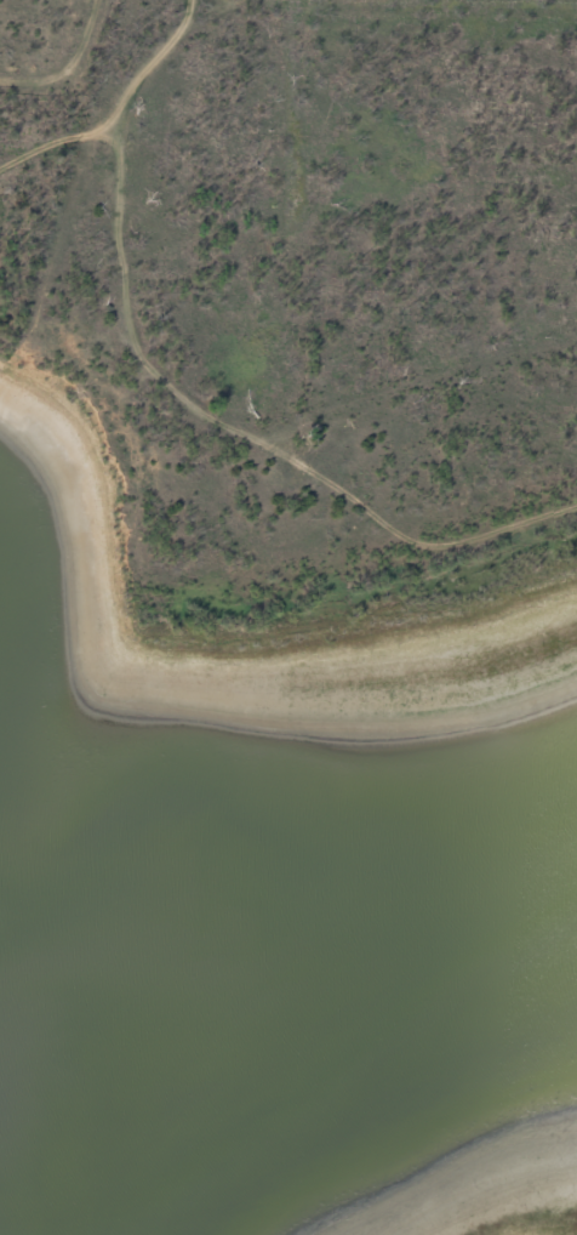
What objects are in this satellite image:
road: (155, 62)
road: (70, 68)
road: (57, 142)
road: (247, 436)

